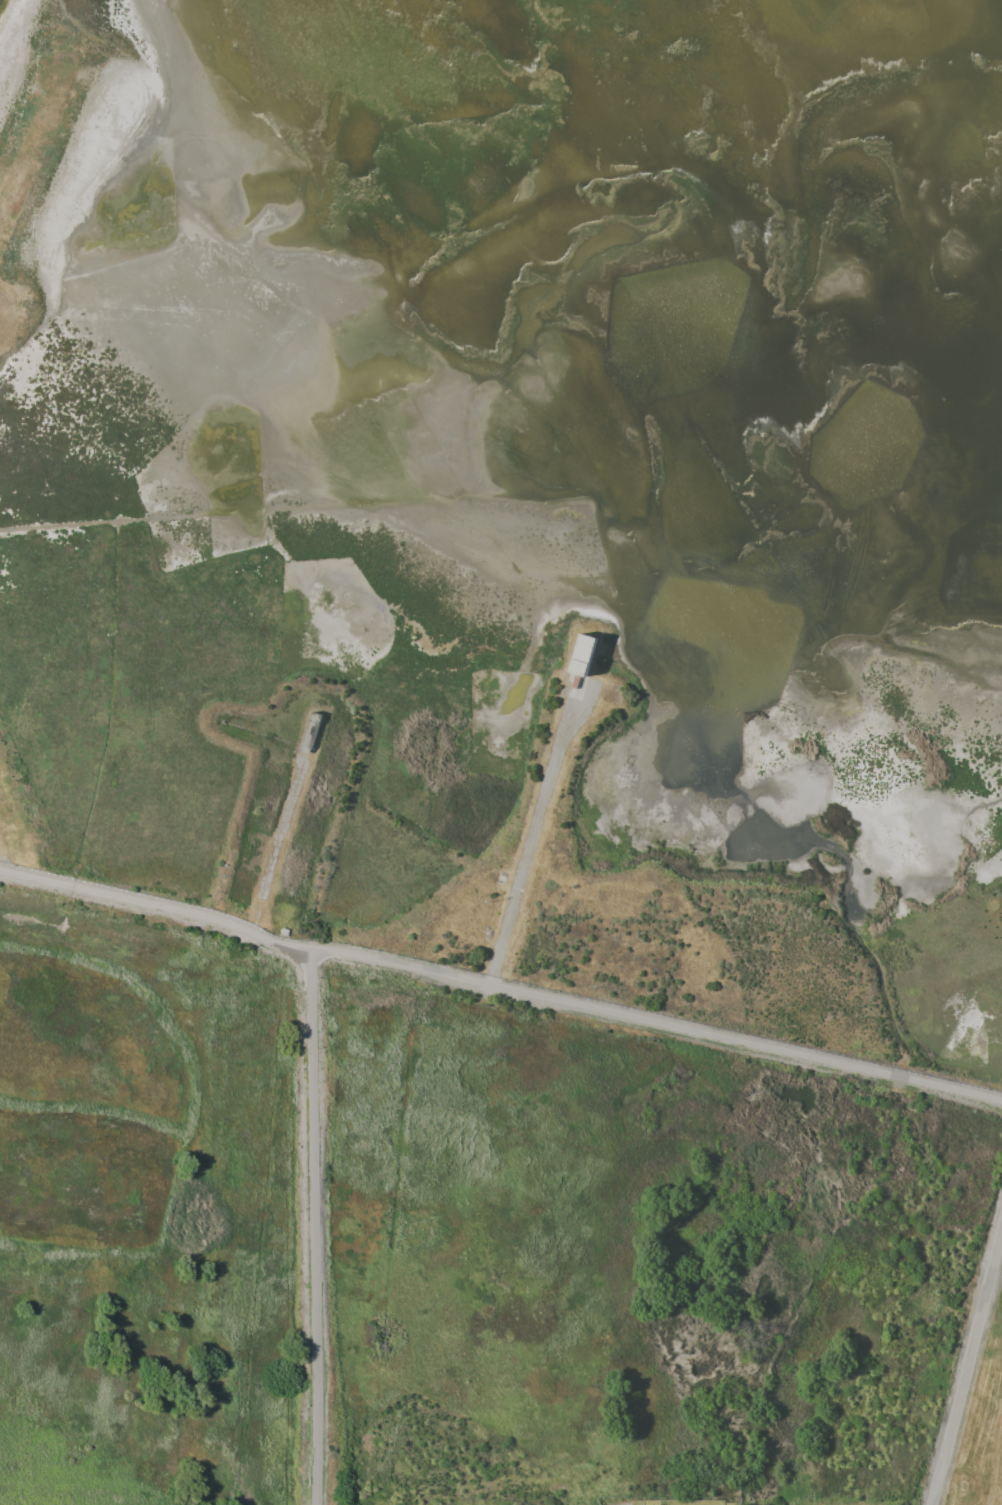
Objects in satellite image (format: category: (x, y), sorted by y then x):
building: (583, 655)
building: (311, 730)
road: (533, 828)
road: (278, 841)
building: (284, 932)
road: (499, 988)
road: (313, 1227)
road: (966, 1368)

